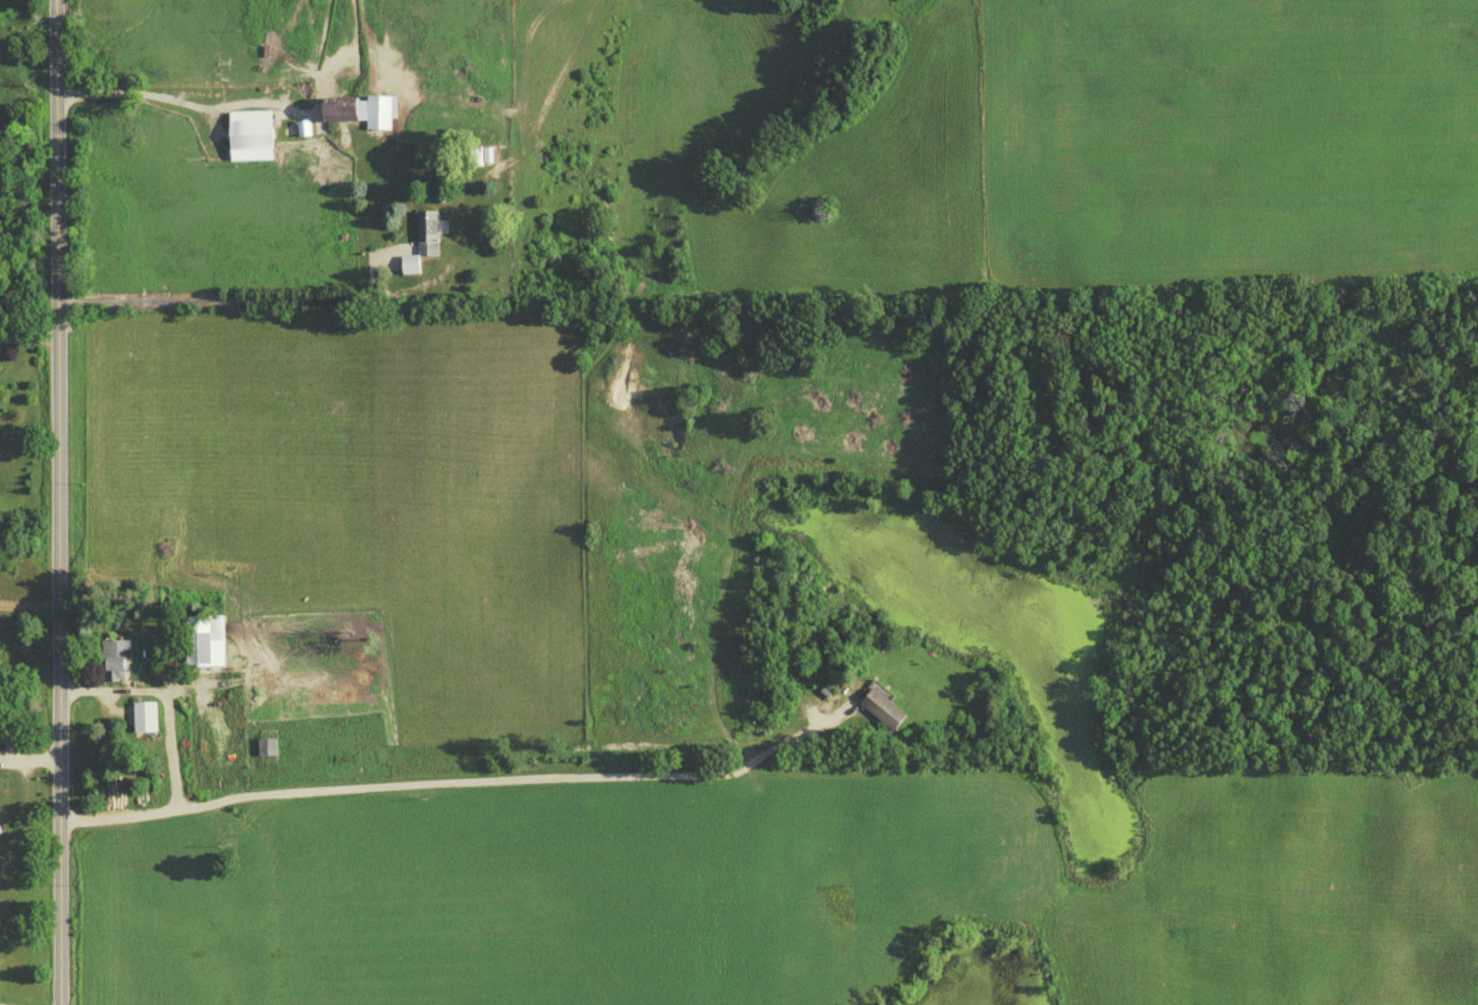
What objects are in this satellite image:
road: (114, 29)
road: (169, 102)
building: (356, 116)
building: (249, 140)
building: (482, 160)
building: (424, 244)
road: (229, 296)
road: (59, 502)
building: (203, 645)
building: (116, 665)
road: (161, 704)
building: (882, 714)
building: (144, 722)
building: (267, 752)
road: (459, 785)

